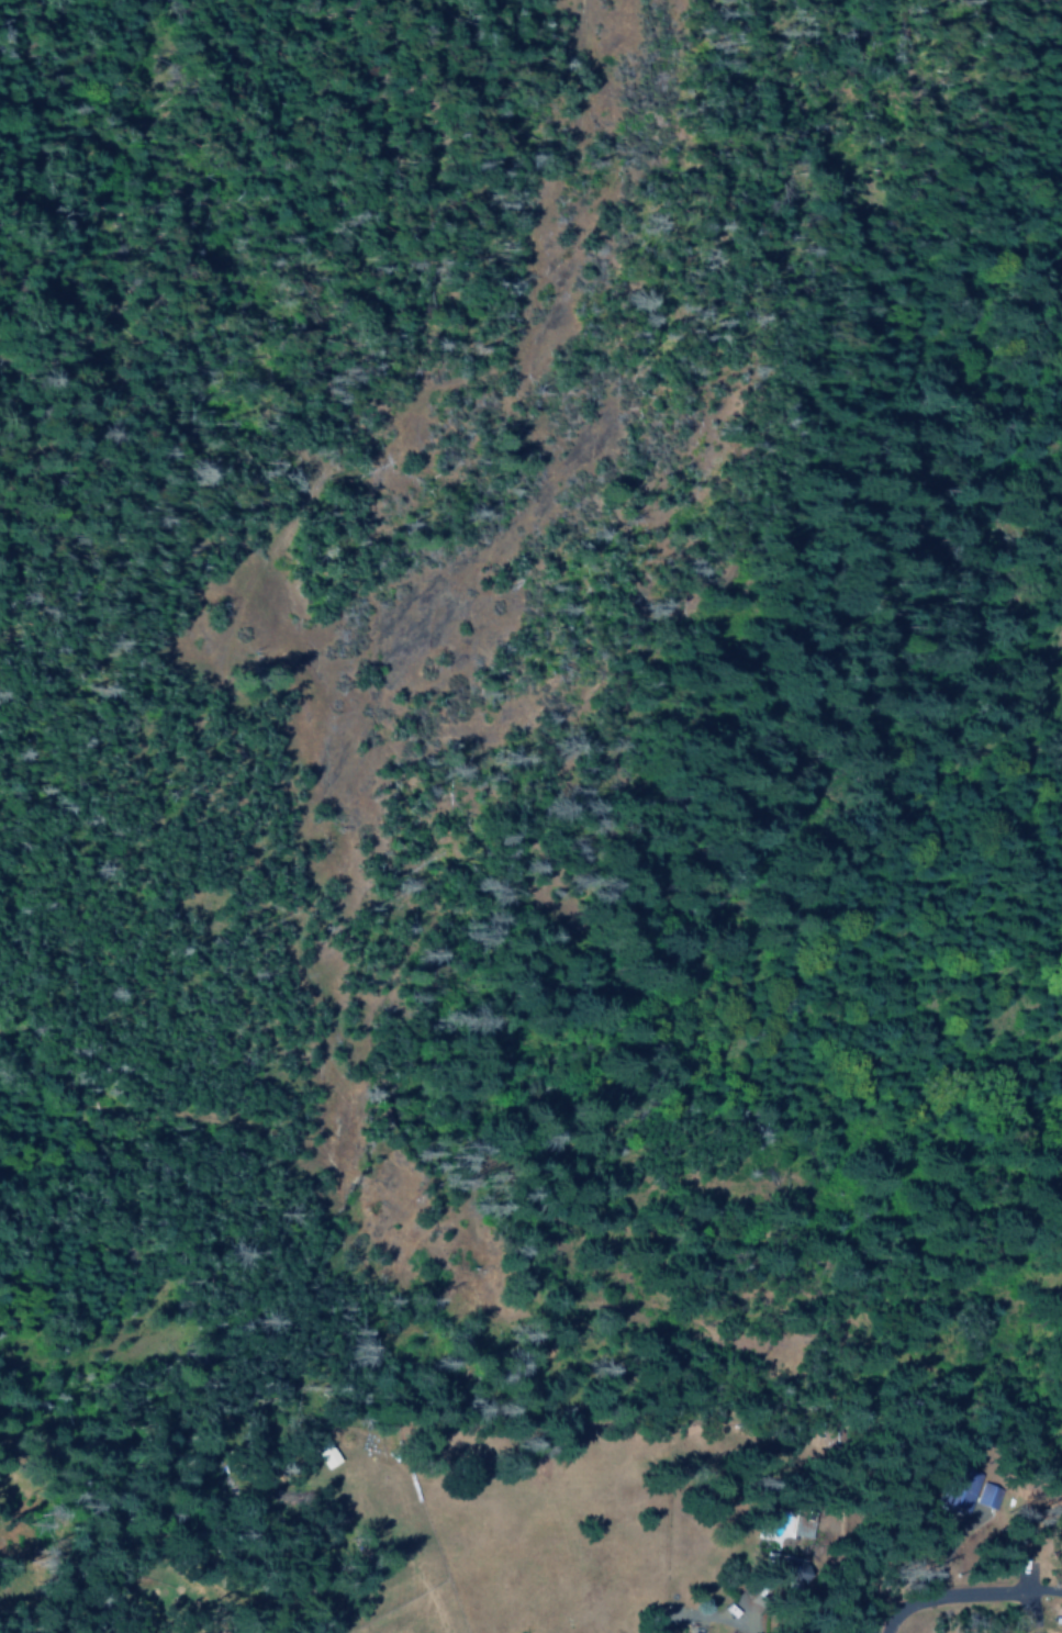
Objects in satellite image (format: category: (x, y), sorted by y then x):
building: (325, 1454)
building: (955, 1487)
building: (985, 1496)
road: (963, 1596)

